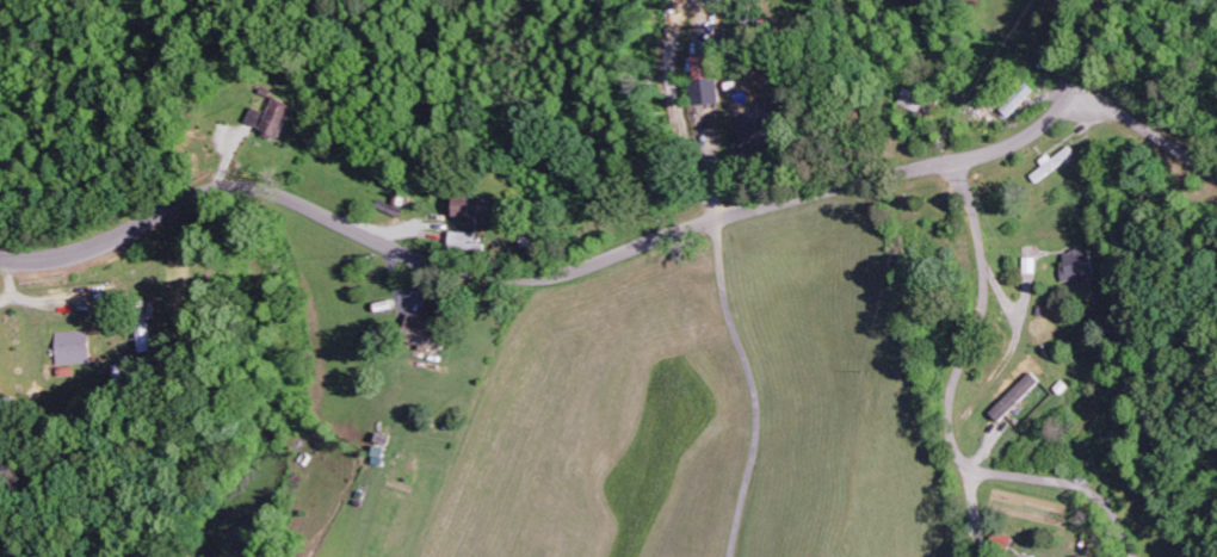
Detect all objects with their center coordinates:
building: (710, 83)
building: (278, 118)
road: (1147, 128)
building: (767, 129)
building: (1060, 165)
building: (474, 208)
building: (472, 241)
building: (1083, 266)
road: (585, 271)
building: (78, 348)
building: (1020, 396)
road: (951, 415)
building: (1051, 556)

